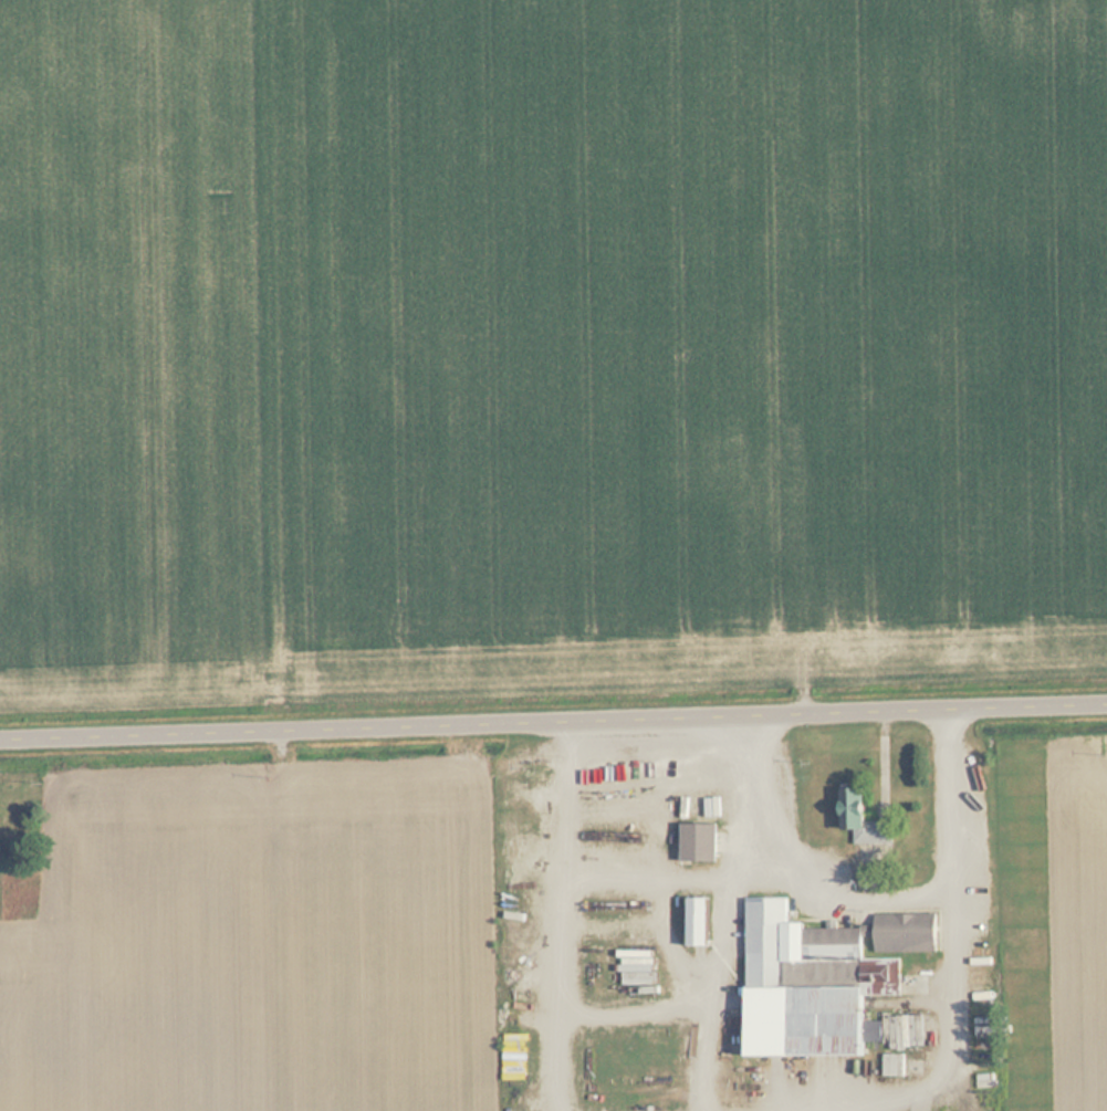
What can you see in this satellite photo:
road: (553, 713)
building: (866, 818)
building: (703, 840)
building: (704, 920)
building: (823, 978)
building: (905, 1066)

